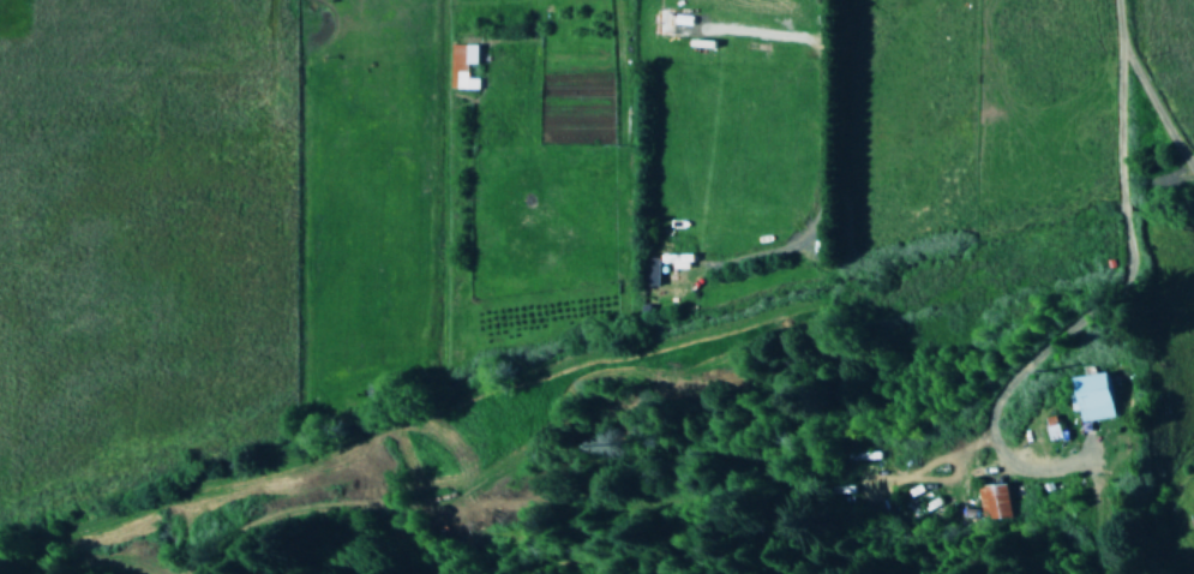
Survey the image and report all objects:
building: (461, 66)
road: (1116, 98)
road: (1154, 118)
road: (823, 189)
road: (1117, 209)
building: (649, 270)
road: (1024, 366)
building: (1093, 397)
building: (1052, 427)
building: (990, 501)

